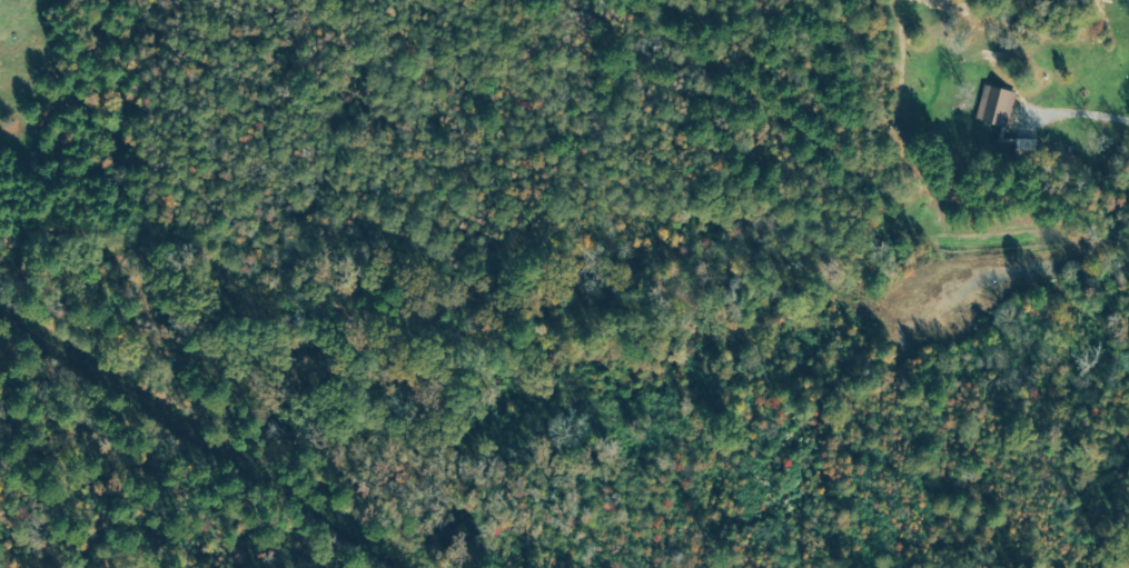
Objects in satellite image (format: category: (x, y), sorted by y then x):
road: (1077, 113)
building: (1003, 123)

